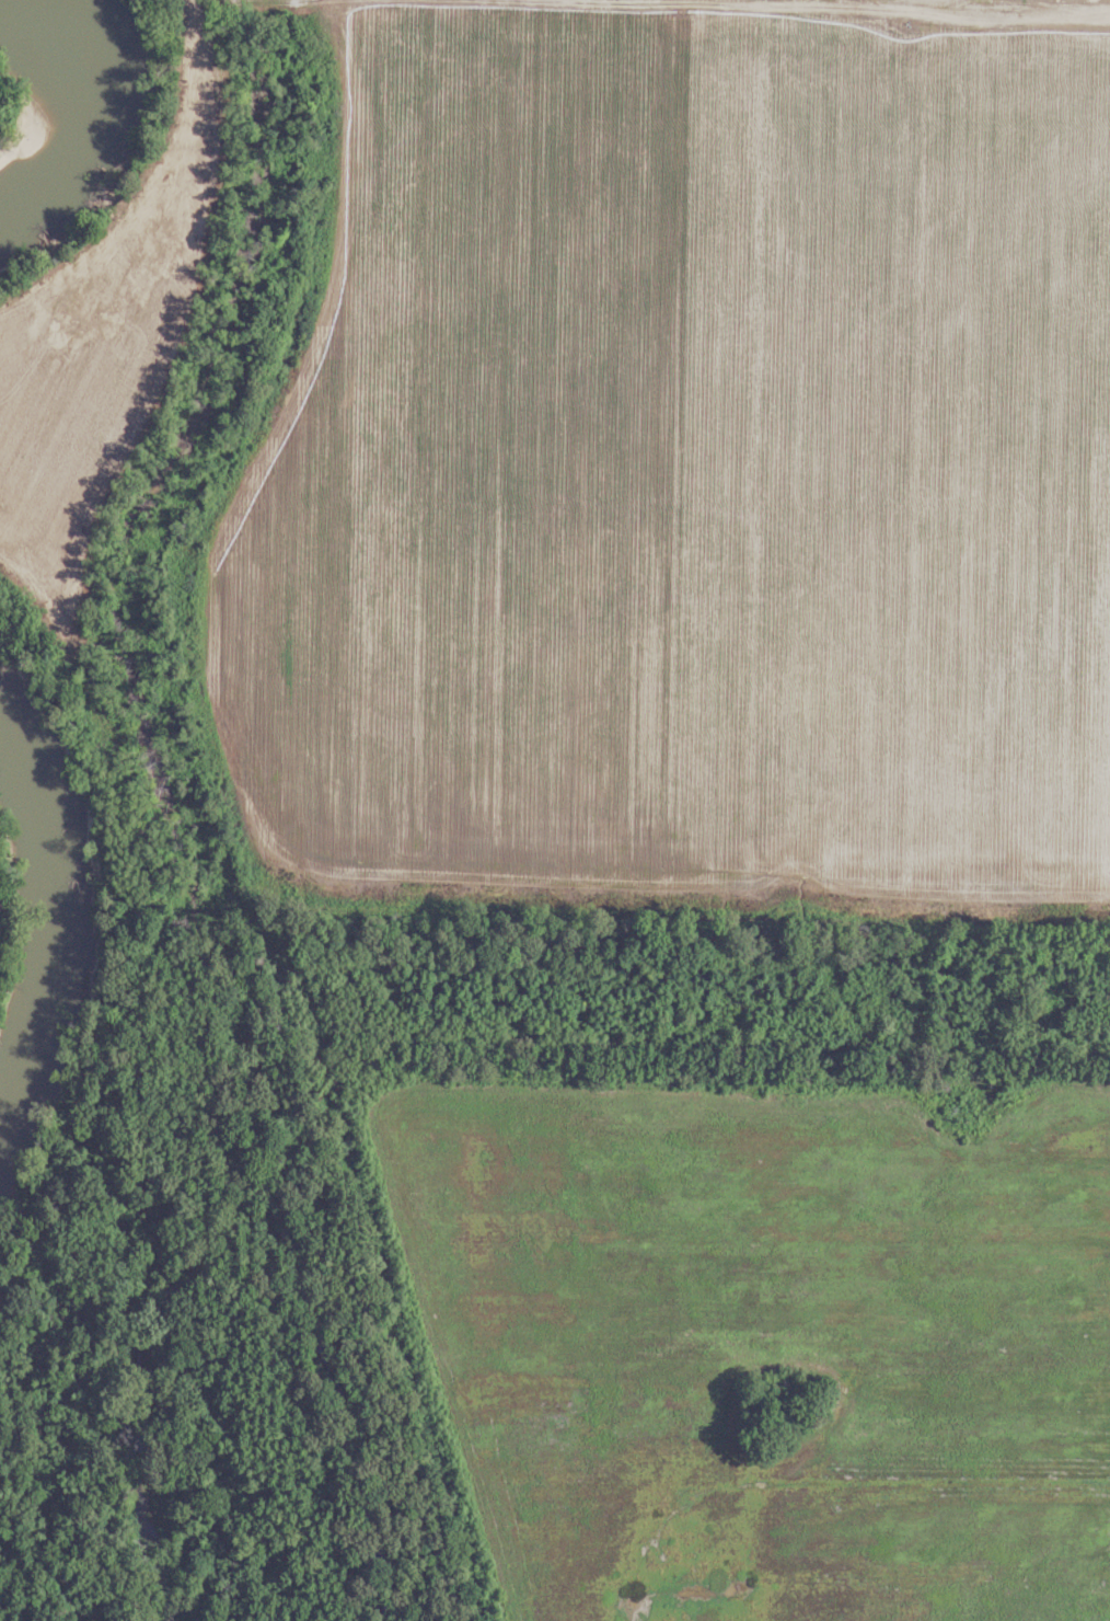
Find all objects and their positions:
road: (674, 4)
river: (82, 107)
river: (30, 923)
building: (964, 1101)

